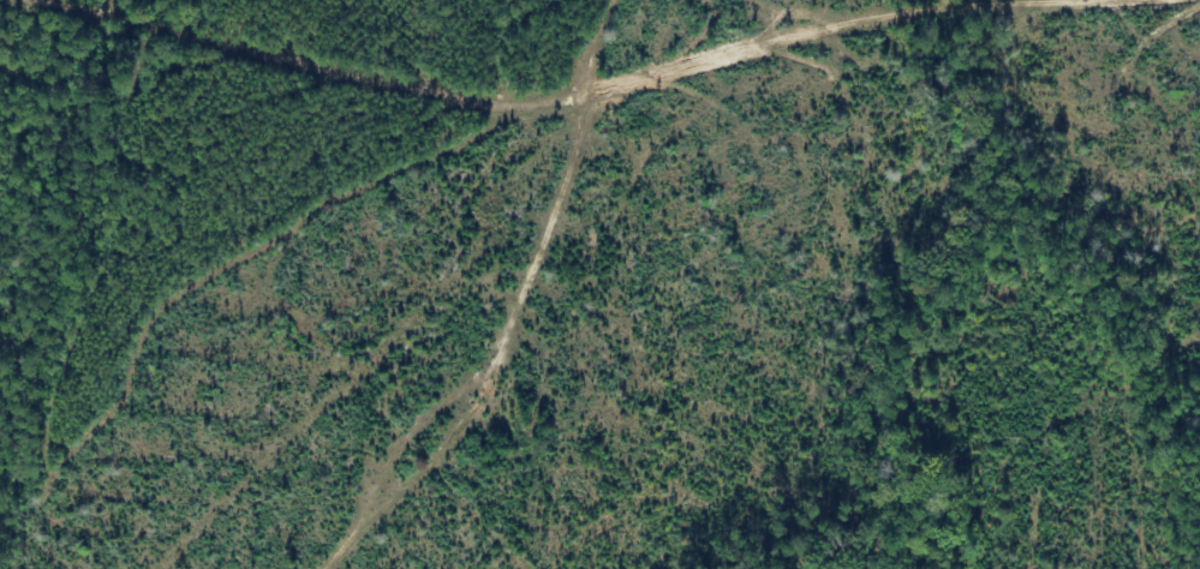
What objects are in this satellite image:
road: (598, 95)

